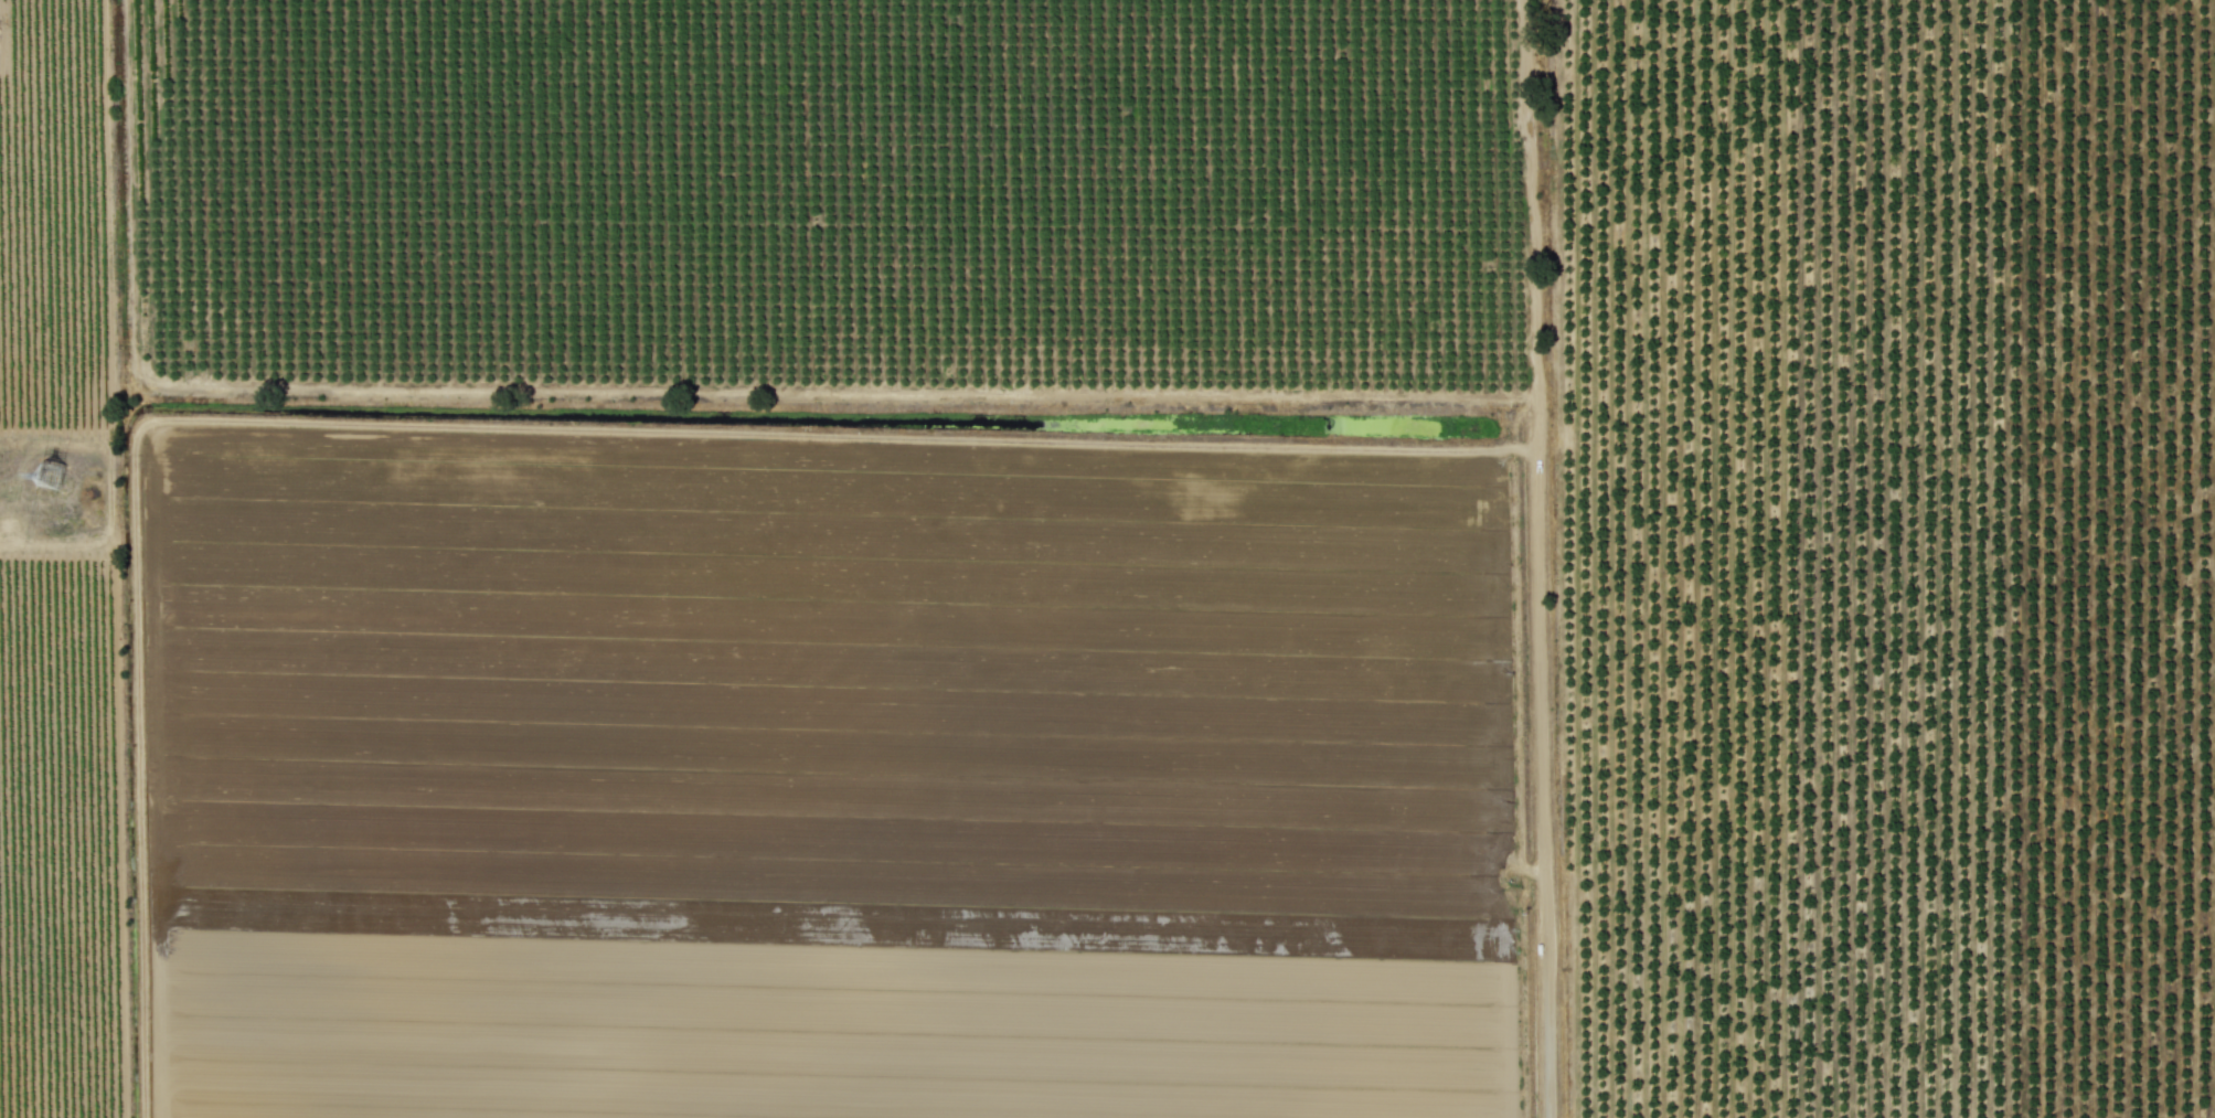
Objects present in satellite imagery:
power tower: (60, 480)
crop: (1107, 558)
road: (1540, 558)

